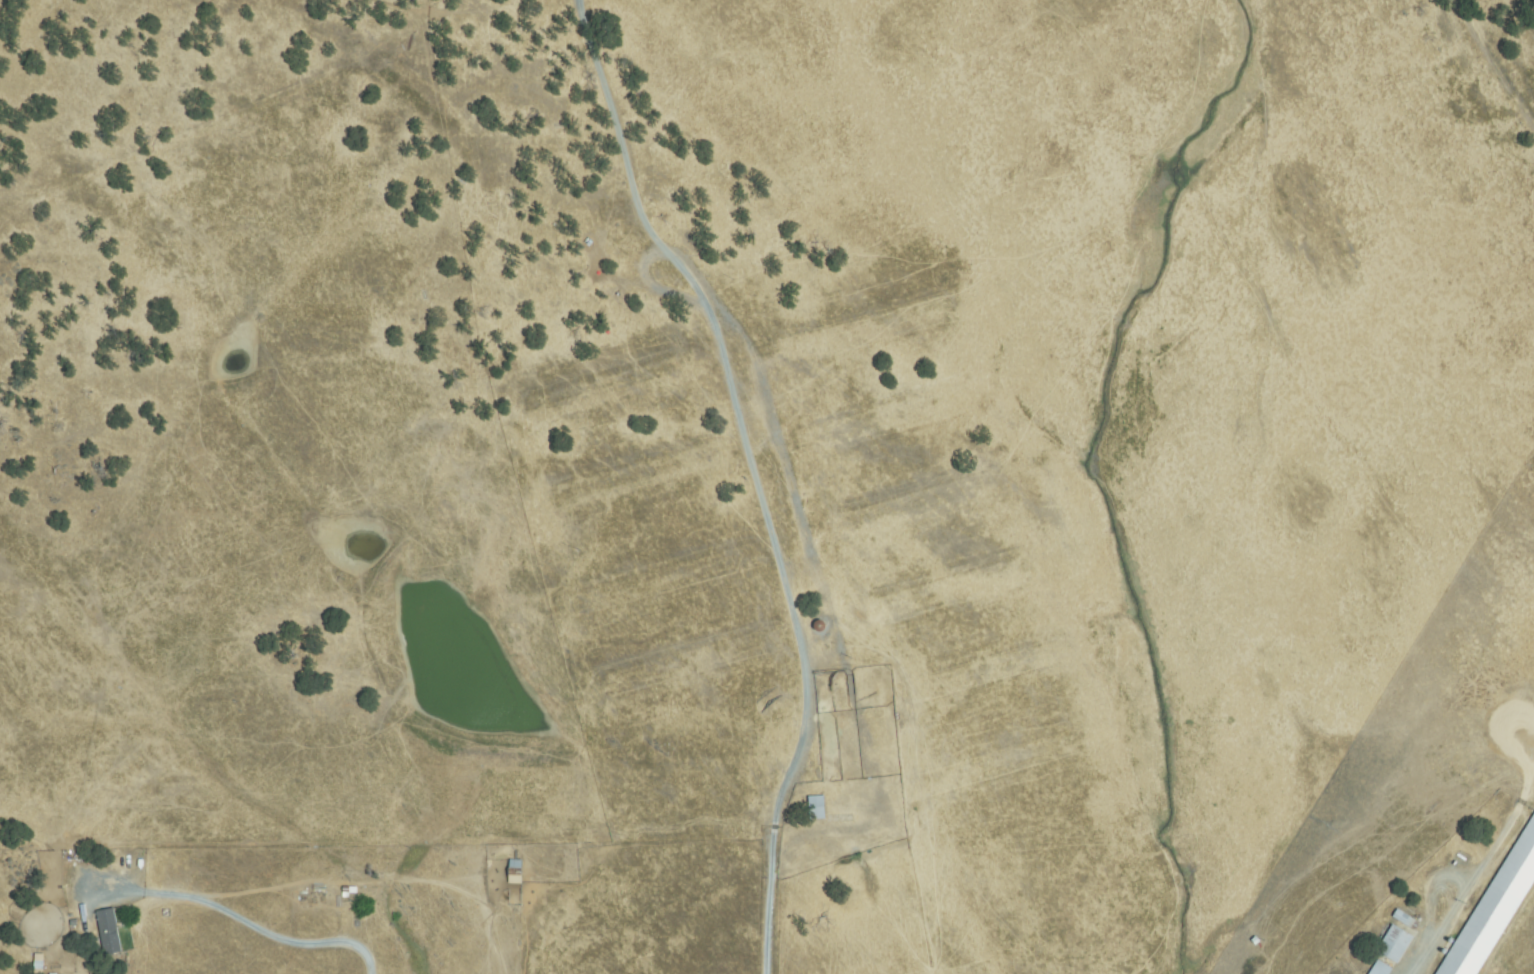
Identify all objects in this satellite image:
road: (447, 13)
road: (786, 472)
building: (823, 627)
building: (816, 807)
building: (515, 872)
building: (348, 891)
building: (1494, 908)
building: (1406, 920)
road: (269, 930)
building: (109, 932)
building: (1255, 940)
building: (1394, 944)
building: (38, 964)
building: (1381, 969)

